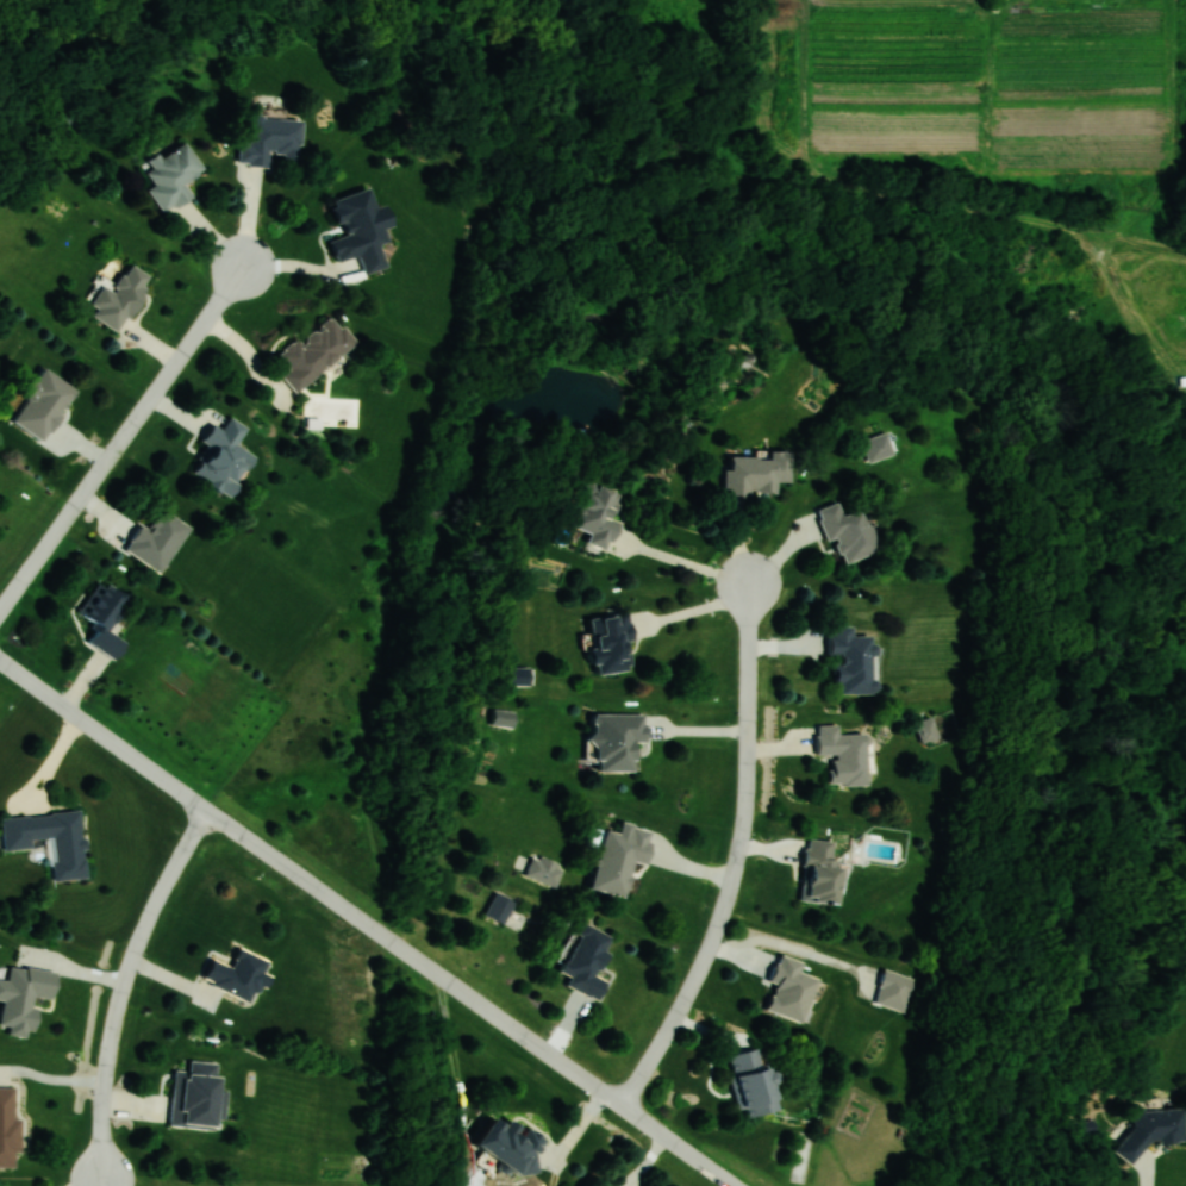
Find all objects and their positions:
building: (76, 121)
building: (270, 141)
building: (174, 176)
building: (361, 230)
building: (120, 298)
building: (316, 351)
building: (43, 404)
road: (120, 436)
building: (876, 448)
building: (224, 458)
building: (756, 474)
building: (594, 513)
building: (848, 532)
building: (158, 539)
road: (682, 564)
building: (104, 618)
building: (611, 644)
building: (853, 660)
building: (503, 718)
building: (929, 730)
building: (618, 741)
building: (844, 755)
building: (67, 844)
building: (620, 857)
road: (731, 859)
building: (544, 869)
building: (820, 870)
building: (500, 907)
road: (364, 925)
building: (587, 961)
building: (238, 975)
road: (119, 987)
building: (791, 988)
building: (899, 990)
building: (24, 998)
building: (754, 1084)
building: (198, 1097)
building: (8, 1126)
building: (1154, 1129)
building: (512, 1144)
road: (650, 1160)
road: (631, 1182)
road: (635, 1182)

